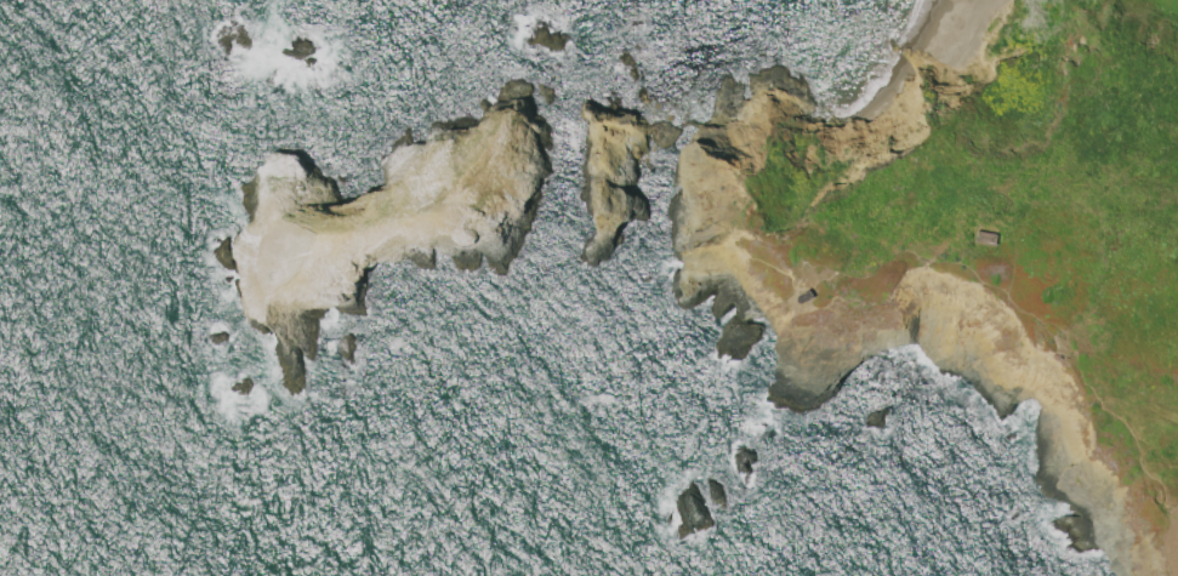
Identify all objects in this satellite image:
building: (988, 240)
building: (807, 298)
road: (1173, 555)

